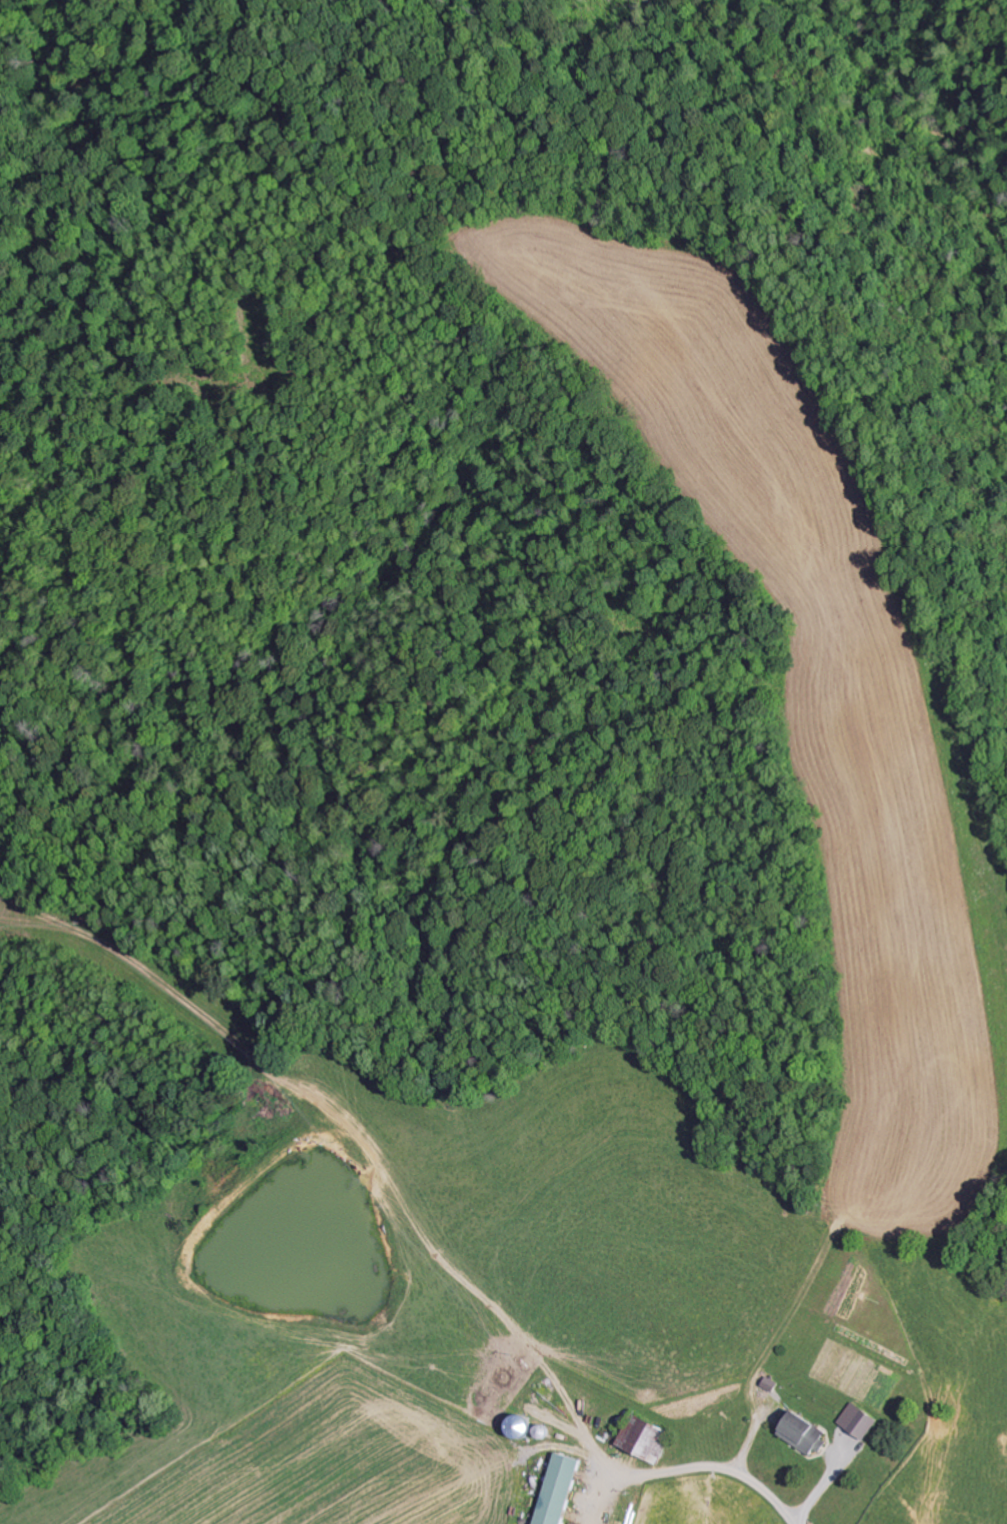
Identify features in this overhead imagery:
building: (852, 1421)
building: (795, 1432)
building: (638, 1439)
building: (553, 1489)

